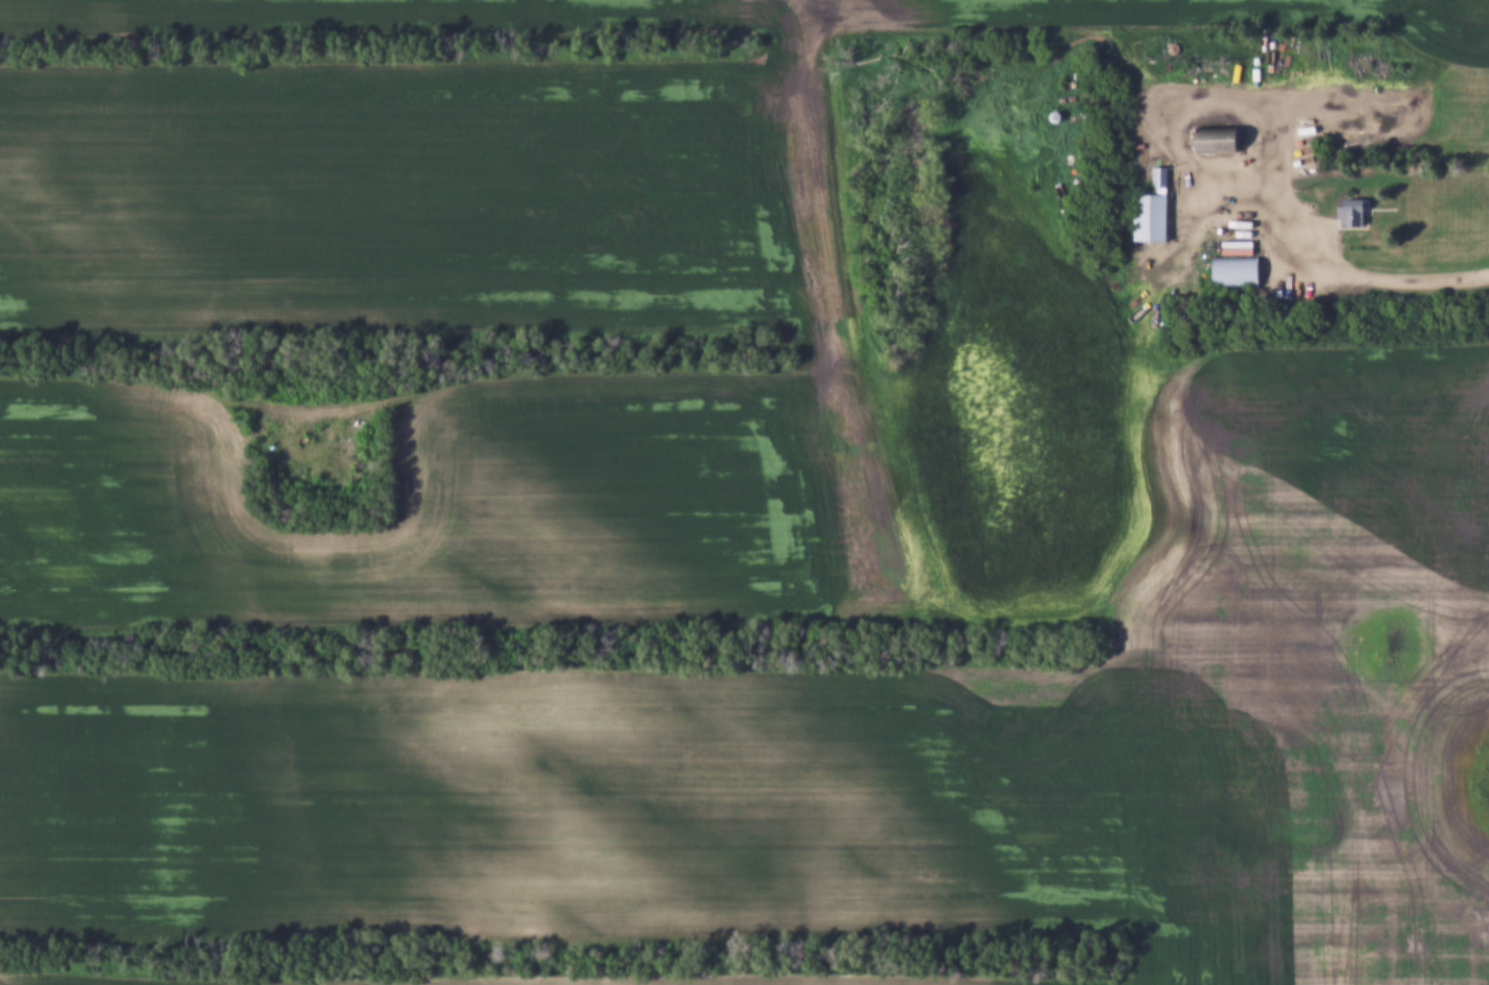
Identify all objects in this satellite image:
building: (1218, 146)
building: (1153, 212)
building: (1351, 217)
road: (1319, 256)
building: (1237, 274)

